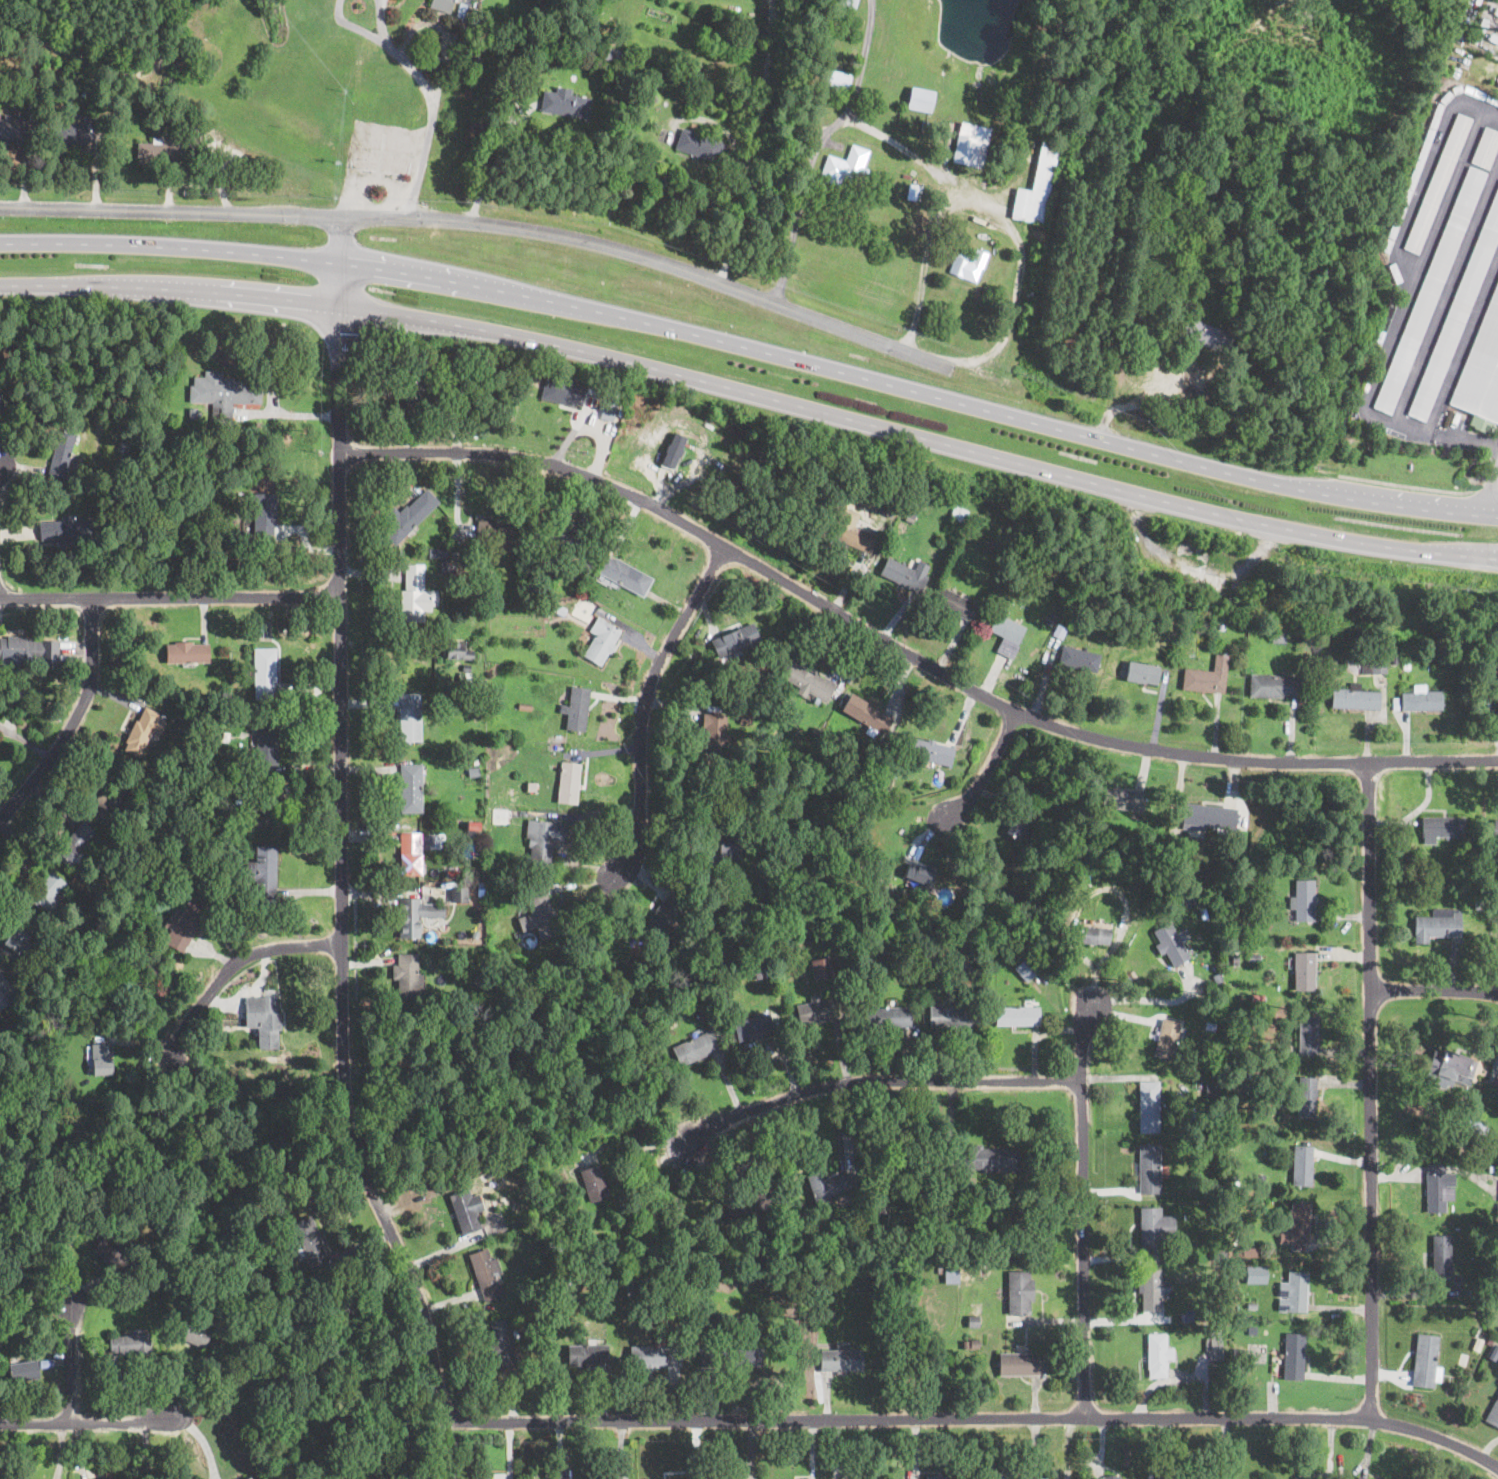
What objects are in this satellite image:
building: (847, 3)
building: (441, 5)
building: (461, 8)
building: (1496, 11)
building: (1483, 24)
building: (669, 32)
building: (477, 38)
building: (1493, 38)
road: (172, 41)
building: (468, 49)
building: (612, 50)
road: (89, 57)
building: (75, 67)
building: (837, 77)
building: (69, 88)
building: (1457, 88)
building: (1445, 96)
building: (920, 99)
road: (432, 101)
building: (148, 104)
building: (565, 104)
building: (1438, 108)
building: (736, 113)
building: (173, 120)
building: (12, 127)
building: (75, 131)
building: (98, 142)
road: (752, 142)
building: (698, 145)
building: (971, 145)
road: (816, 147)
building: (1486, 147)
building: (157, 153)
road: (490, 156)
building: (845, 166)
road: (1424, 167)
building: (1043, 169)
building: (1412, 177)
building: (1437, 182)
building: (913, 192)
building: (993, 199)
building: (1009, 202)
road: (171, 211)
road: (1002, 218)
building: (1386, 244)
building: (1037, 249)
road: (651, 258)
building: (1225, 259)
road: (926, 262)
building: (967, 264)
building: (1395, 272)
building: (1429, 290)
road: (1446, 290)
building: (1456, 314)
building: (1384, 323)
road: (1396, 323)
building: (1204, 335)
road: (1462, 342)
road: (753, 349)
building: (462, 373)
building: (1481, 373)
building: (413, 389)
road: (753, 392)
building: (564, 393)
building: (222, 394)
building: (613, 399)
road: (1147, 400)
building: (0, 405)
building: (607, 410)
building: (193, 412)
building: (580, 419)
building: (602, 425)
building: (674, 450)
building: (59, 454)
building: (125, 460)
building: (886, 472)
building: (853, 476)
building: (53, 480)
road: (1407, 484)
building: (65, 489)
road: (1487, 490)
road: (1491, 492)
building: (844, 496)
building: (888, 508)
building: (263, 513)
building: (959, 514)
building: (911, 515)
building: (408, 517)
building: (66, 529)
building: (906, 529)
building: (497, 533)
building: (565, 534)
building: (857, 538)
building: (228, 541)
building: (986, 542)
building: (992, 546)
building: (228, 552)
building: (439, 553)
building: (456, 555)
building: (482, 561)
building: (449, 567)
building: (625, 576)
building: (904, 576)
building: (1139, 576)
road: (168, 596)
building: (417, 598)
building: (1185, 601)
building: (957, 605)
building: (561, 610)
building: (546, 612)
building: (1050, 619)
building: (1099, 619)
building: (1164, 621)
building: (1222, 624)
building: (1060, 631)
building: (1008, 635)
building: (1276, 635)
building: (602, 641)
building: (737, 641)
road: (387, 647)
road: (904, 647)
building: (28, 648)
building: (459, 650)
building: (186, 652)
building: (1393, 657)
building: (1079, 659)
building: (1333, 663)
building: (1373, 665)
building: (1406, 665)
building: (467, 668)
building: (263, 672)
building: (1143, 673)
building: (1207, 677)
building: (1470, 680)
building: (809, 681)
building: (1274, 685)
building: (19, 686)
building: (1354, 698)
building: (1497, 698)
building: (1418, 700)
road: (644, 702)
building: (1482, 704)
building: (526, 707)
building: (577, 709)
building: (237, 712)
building: (868, 714)
building: (747, 717)
building: (409, 720)
road: (79, 722)
building: (144, 731)
building: (816, 731)
building: (715, 740)
building: (265, 743)
building: (930, 751)
building: (476, 760)
road: (982, 764)
building: (474, 773)
building: (174, 779)
building: (569, 782)
building: (410, 788)
building: (534, 788)
building: (1005, 789)
building: (109, 798)
building: (1124, 800)
building: (250, 808)
building: (1210, 816)
building: (161, 817)
building: (502, 817)
building: (748, 819)
road: (341, 824)
building: (1020, 826)
building: (1441, 827)
building: (1495, 829)
building: (474, 830)
building: (544, 840)
building: (74, 841)
building: (729, 848)
building: (410, 853)
building: (264, 871)
building: (920, 875)
building: (1079, 875)
building: (1079, 885)
building: (482, 886)
building: (47, 890)
building: (460, 894)
building: (1003, 900)
building: (1303, 900)
building: (1481, 901)
building: (1174, 905)
building: (668, 912)
building: (539, 914)
building: (96, 915)
building: (246, 916)
building: (415, 916)
building: (159, 918)
building: (184, 922)
building: (1437, 925)
building: (1234, 926)
building: (17, 934)
building: (1102, 936)
building: (1172, 946)
building: (1235, 949)
building: (885, 952)
building: (904, 953)
building: (1254, 957)
building: (1236, 960)
road: (235, 962)
building: (975, 963)
building: (823, 968)
building: (846, 969)
building: (1027, 969)
building: (152, 971)
building: (1305, 971)
building: (760, 974)
building: (407, 977)
building: (1218, 979)
building: (1207, 984)
road: (1434, 989)
building: (1258, 996)
building: (3, 997)
road: (1148, 998)
building: (21, 999)
building: (439, 999)
building: (680, 1009)
building: (818, 1010)
building: (1018, 1016)
building: (888, 1017)
building: (952, 1017)
building: (264, 1019)
building: (754, 1027)
building: (1211, 1027)
building: (1246, 1032)
building: (640, 1034)
building: (1308, 1037)
building: (1168, 1039)
building: (696, 1047)
building: (398, 1052)
building: (636, 1052)
building: (100, 1058)
building: (1451, 1066)
building: (231, 1067)
building: (395, 1067)
building: (55, 1075)
road: (875, 1076)
building: (1251, 1076)
road: (1370, 1089)
building: (1213, 1091)
building: (1305, 1097)
building: (1150, 1106)
building: (200, 1107)
building: (1475, 1127)
road: (628, 1144)
building: (992, 1160)
building: (1302, 1165)
building: (507, 1167)
building: (1492, 1169)
building: (1150, 1170)
building: (941, 1180)
building: (1234, 1181)
building: (1261, 1181)
building: (595, 1183)
building: (1213, 1184)
building: (827, 1187)
building: (1436, 1189)
road: (1080, 1201)
building: (278, 1202)
building: (747, 1204)
building: (467, 1211)
building: (1295, 1224)
building: (1156, 1229)
building: (309, 1242)
building: (112, 1252)
building: (1250, 1252)
building: (1236, 1253)
building: (1441, 1255)
building: (1217, 1256)
building: (555, 1268)
building: (940, 1270)
building: (955, 1271)
building: (865, 1272)
building: (487, 1275)
building: (1255, 1275)
building: (1458, 1278)
building: (566, 1282)
building: (630, 1282)
building: (641, 1285)
building: (554, 1286)
building: (1150, 1290)
building: (1020, 1293)
building: (1294, 1293)
building: (1472, 1293)
building: (1253, 1299)
building: (1484, 1299)
building: (1255, 1306)
building: (820, 1311)
building: (1218, 1311)
building: (831, 1313)
building: (1187, 1317)
building: (975, 1322)
building: (549, 1330)
building: (1251, 1330)
building: (1265, 1331)
building: (191, 1333)
building: (1490, 1341)
building: (130, 1343)
building: (503, 1343)
building: (976, 1344)
building: (966, 1345)
building: (1216, 1345)
building: (1478, 1345)
building: (1240, 1353)
building: (1493, 1353)
building: (588, 1355)
building: (1159, 1356)
building: (1293, 1356)
building: (656, 1357)
building: (730, 1358)
building: (841, 1360)
road: (69, 1361)
building: (1426, 1362)
building: (1020, 1364)
building: (22, 1370)
building: (1493, 1414)
road: (972, 1415)
road: (90, 1424)
building: (1001, 1476)
building: (1177, 1476)
building: (867, 1477)
building: (939, 1477)
building: (1114, 1477)
building: (247, 1478)
building: (250, 1478)
building: (664, 1478)
building: (1034, 1478)
building: (1297, 1478)
building: (1361, 1478)

